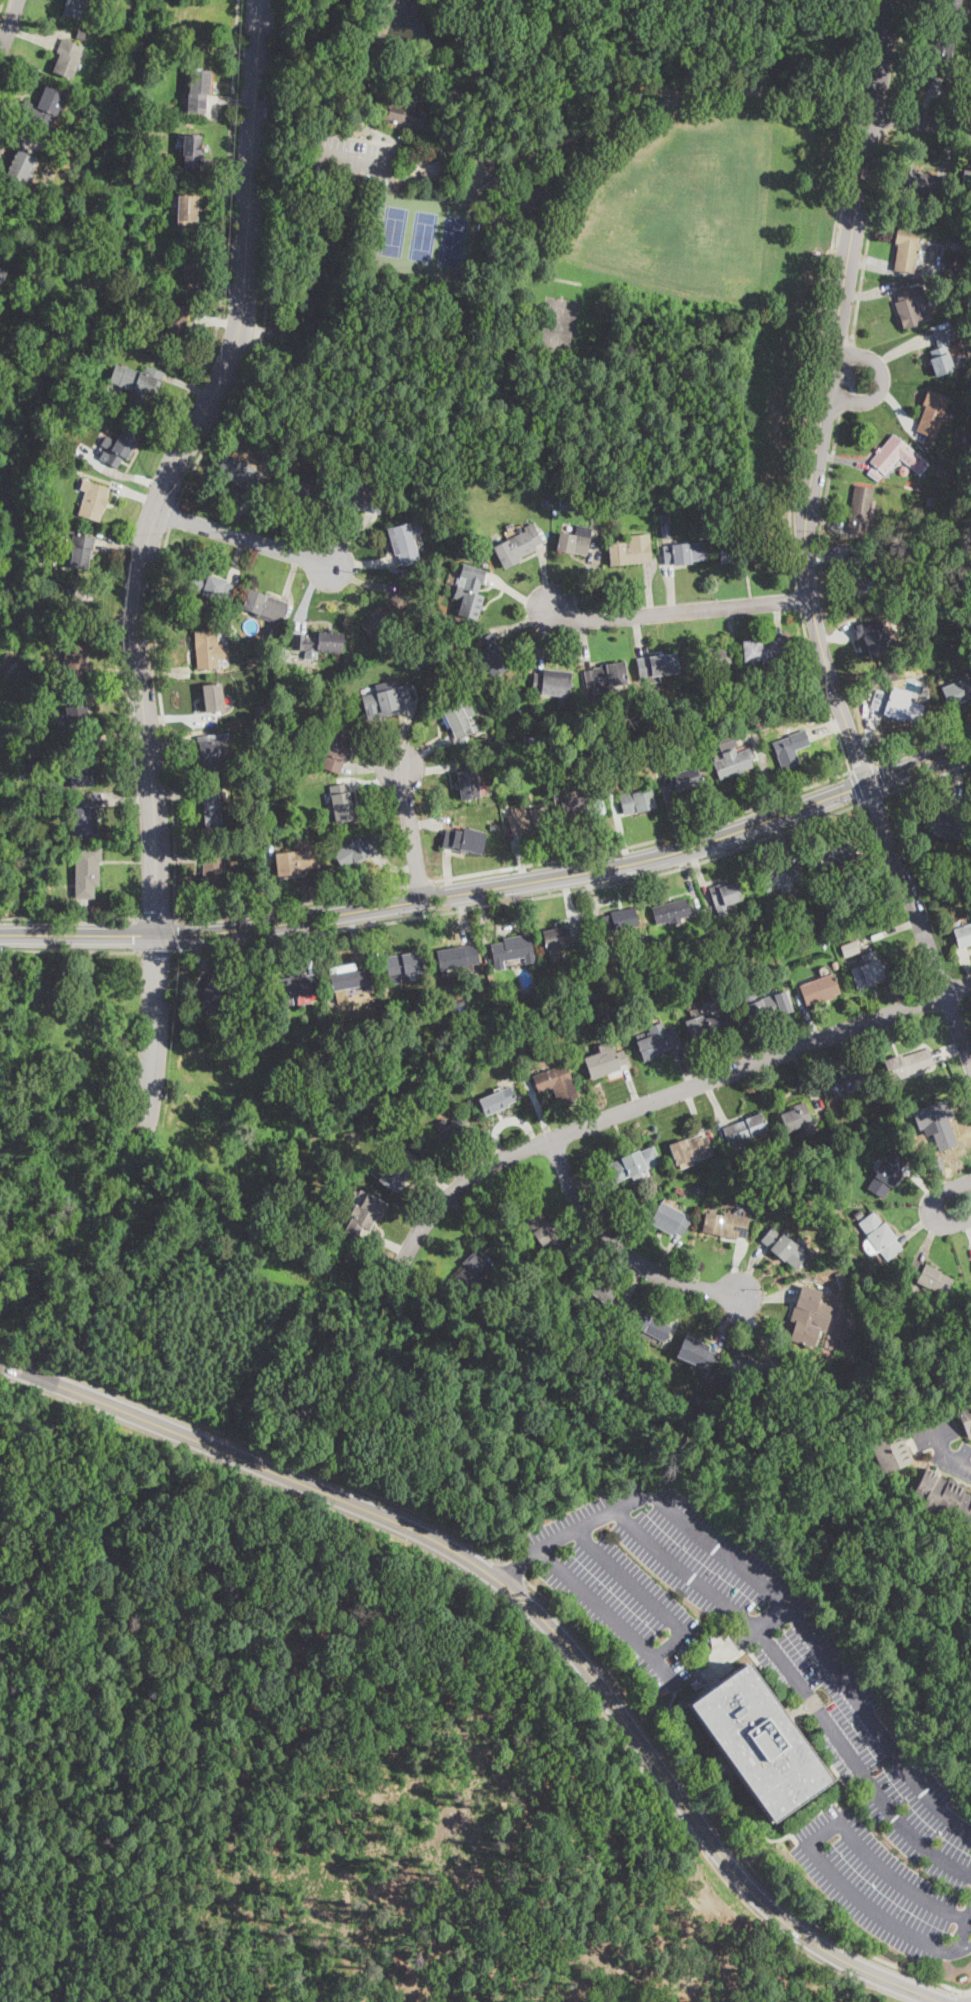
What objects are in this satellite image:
road: (0, 3)
building: (950, 5)
building: (75, 8)
road: (931, 8)
dam: (385, 14)
road: (9, 24)
road: (3, 31)
road: (33, 37)
road: (452, 44)
road: (900, 50)
building: (941, 57)
building: (68, 58)
road: (324, 58)
road: (529, 84)
building: (199, 91)
building: (430, 92)
road: (232, 101)
road: (931, 102)
road: (9, 104)
building: (44, 106)
road: (889, 114)
building: (411, 116)
road: (922, 123)
road: (16, 142)
road: (545, 146)
building: (192, 150)
road: (950, 150)
road: (447, 152)
parking lot: (352, 158)
building: (419, 159)
road: (351, 160)
road: (227, 162)
building: (413, 164)
building: (22, 166)
road: (561, 167)
building: (449, 170)
building: (423, 171)
building: (966, 179)
building: (921, 182)
road: (414, 187)
road: (220, 199)
park: (685, 208)
building: (188, 209)
road: (224, 217)
road: (869, 233)
road: (221, 238)
park: (422, 238)
building: (931, 239)
park: (687, 241)
park: (557, 242)
building: (956, 243)
building: (907, 249)
building: (1, 259)
road: (267, 261)
building: (953, 263)
road: (244, 265)
building: (193, 268)
road: (898, 271)
road: (318, 273)
building: (2, 275)
road: (223, 281)
road: (873, 291)
road: (823, 294)
building: (911, 307)
building: (121, 314)
road: (217, 321)
park: (557, 325)
building: (173, 329)
building: (970, 330)
building: (27, 332)
road: (901, 348)
building: (943, 351)
road: (843, 375)
building: (138, 383)
road: (881, 383)
road: (189, 386)
road: (894, 411)
building: (932, 413)
building: (119, 447)
building: (266, 454)
building: (894, 457)
road: (841, 458)
building: (39, 467)
road: (831, 469)
building: (412, 472)
building: (240, 473)
road: (136, 477)
building: (941, 478)
road: (830, 484)
building: (302, 488)
road: (124, 489)
building: (954, 492)
building: (356, 496)
building: (93, 500)
building: (930, 500)
building: (546, 503)
building: (568, 504)
building: (862, 510)
road: (174, 514)
road: (238, 514)
building: (917, 514)
building: (763, 528)
road: (302, 530)
building: (665, 531)
road: (243, 540)
road: (351, 540)
building: (575, 541)
road: (805, 541)
building: (405, 542)
building: (517, 547)
road: (122, 549)
building: (83, 551)
building: (631, 551)
building: (738, 551)
road: (782, 551)
building: (684, 554)
road: (238, 559)
road: (825, 562)
road: (363, 563)
road: (545, 573)
building: (859, 573)
road: (292, 576)
road: (587, 577)
road: (360, 580)
building: (218, 589)
road: (649, 589)
road: (670, 589)
building: (469, 590)
building: (907, 590)
road: (518, 594)
road: (307, 595)
road: (799, 599)
building: (81, 603)
building: (265, 605)
road: (678, 611)
building: (386, 614)
building: (899, 615)
road: (778, 619)
road: (113, 621)
road: (522, 621)
road: (730, 626)
road: (840, 634)
road: (641, 635)
road: (543, 638)
building: (320, 642)
building: (878, 642)
road: (584, 644)
building: (209, 649)
building: (765, 651)
building: (490, 654)
building: (74, 655)
building: (713, 657)
building: (251, 661)
building: (656, 667)
road: (112, 672)
road: (165, 676)
building: (606, 676)
building: (554, 685)
building: (752, 687)
building: (958, 691)
road: (113, 692)
road: (822, 692)
building: (213, 698)
building: (879, 699)
building: (387, 700)
building: (261, 708)
building: (899, 708)
building: (76, 712)
road: (179, 718)
building: (458, 718)
road: (163, 722)
road: (144, 723)
road: (827, 728)
building: (285, 734)
road: (873, 736)
road: (172, 739)
road: (402, 739)
building: (532, 739)
building: (725, 741)
road: (118, 742)
road: (922, 745)
building: (791, 747)
building: (338, 748)
building: (212, 753)
road: (426, 753)
building: (541, 753)
building: (495, 754)
building: (733, 763)
building: (79, 766)
road: (373, 767)
road: (426, 768)
road: (862, 768)
road: (765, 770)
road: (375, 778)
building: (687, 778)
road: (879, 779)
road: (928, 779)
building: (470, 781)
road: (856, 787)
road: (176, 793)
road: (120, 798)
road: (874, 798)
building: (43, 802)
building: (342, 802)
building: (637, 802)
building: (214, 806)
building: (584, 807)
building: (83, 817)
road: (673, 817)
building: (529, 820)
building: (945, 820)
road: (424, 824)
building: (494, 827)
road: (412, 834)
road: (621, 835)
building: (464, 840)
road: (646, 842)
road: (781, 842)
building: (61, 846)
road: (570, 848)
building: (840, 851)
building: (357, 852)
road: (179, 859)
road: (521, 859)
building: (295, 862)
road: (395, 865)
building: (86, 872)
building: (213, 872)
road: (702, 878)
building: (781, 879)
road: (421, 884)
road: (268, 886)
road: (494, 888)
road: (591, 894)
building: (724, 894)
road: (624, 897)
road: (569, 898)
road: (524, 899)
building: (102, 901)
road: (291, 905)
building: (672, 912)
road: (464, 917)
road: (68, 918)
road: (83, 918)
road: (155, 918)
building: (620, 919)
road: (506, 926)
building: (742, 930)
building: (963, 934)
road: (175, 935)
road: (137, 936)
road: (356, 937)
building: (562, 937)
road: (379, 942)
road: (307, 945)
building: (850, 949)
building: (513, 950)
road: (68, 952)
road: (156, 952)
road: (199, 955)
building: (591, 955)
building: (458, 957)
building: (554, 960)
building: (404, 966)
building: (868, 970)
building: (732, 975)
building: (350, 977)
building: (294, 988)
building: (820, 989)
building: (213, 993)
building: (710, 1001)
building: (763, 1006)
building: (616, 1010)
building: (697, 1010)
building: (267, 1021)
building: (709, 1027)
road: (155, 1036)
building: (294, 1042)
building: (658, 1042)
building: (530, 1048)
building: (537, 1060)
building: (370, 1061)
building: (605, 1062)
building: (909, 1064)
building: (851, 1081)
building: (556, 1083)
building: (433, 1091)
road: (674, 1093)
building: (498, 1100)
building: (797, 1117)
building: (890, 1123)
building: (936, 1123)
building: (744, 1130)
building: (446, 1134)
building: (692, 1149)
building: (635, 1163)
building: (935, 1165)
building: (887, 1174)
building: (396, 1176)
building: (698, 1188)
building: (755, 1190)
building: (681, 1192)
road: (935, 1204)
building: (858, 1214)
building: (327, 1215)
building: (365, 1216)
building: (670, 1220)
building: (725, 1224)
building: (547, 1236)
building: (880, 1236)
road: (388, 1241)
building: (784, 1247)
road: (619, 1249)
building: (471, 1271)
building: (930, 1276)
building: (839, 1279)
building: (564, 1282)
building: (601, 1290)
building: (810, 1320)
building: (650, 1324)
building: (914, 1329)
building: (841, 1332)
building: (696, 1354)
building: (752, 1369)
building: (700, 1401)
building: (738, 1414)
building: (966, 1414)
road: (932, 1433)
parking lot: (941, 1443)
road: (256, 1445)
building: (891, 1451)
road: (955, 1456)
building: (944, 1498)
road: (515, 1570)
road: (510, 1574)
road: (628, 1581)
road: (774, 1595)
road: (529, 1605)
road: (606, 1614)
road: (764, 1624)
road: (667, 1644)
road: (800, 1685)
parking lot: (848, 1735)
building: (757, 1740)
road: (718, 1823)
road: (810, 1850)
road: (970, 1918)
road: (961, 1950)

